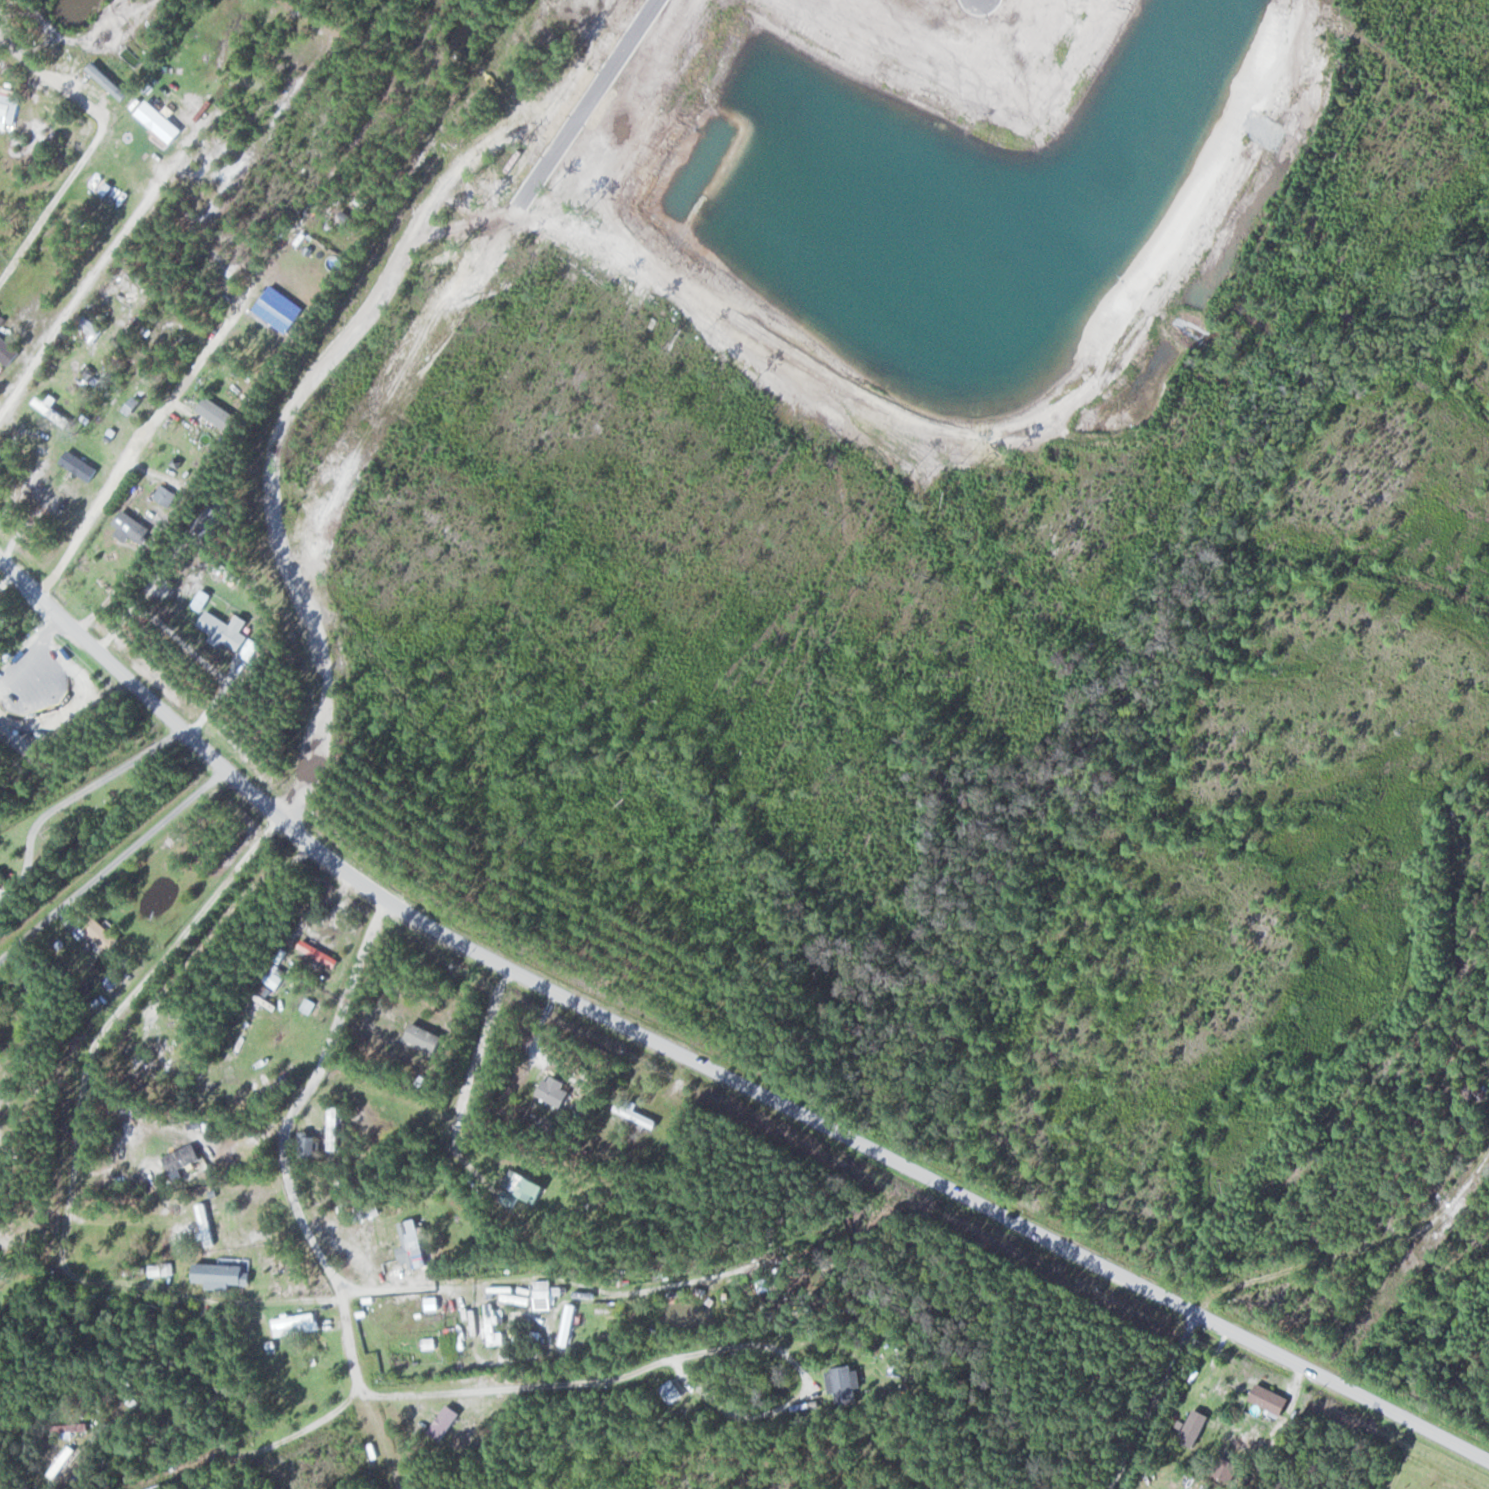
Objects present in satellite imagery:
building: (622, 135)
building: (281, 309)
building: (8, 350)
building: (49, 407)
building: (219, 413)
road: (131, 455)
building: (82, 465)
building: (136, 530)
building: (229, 633)
building: (2, 887)
building: (104, 936)
building: (315, 951)
building: (276, 977)
building: (166, 1054)
road: (702, 1065)
building: (556, 1092)
building: (638, 1116)
building: (336, 1128)
building: (311, 1145)
building: (185, 1159)
building: (523, 1189)
road: (295, 1192)
building: (208, 1225)
building: (414, 1245)
road: (1305, 1261)
building: (163, 1270)
building: (224, 1275)
building: (545, 1292)
building: (296, 1324)
building: (494, 1325)
building: (570, 1325)
building: (1273, 1399)
road: (1151, 1400)
building: (446, 1423)
building: (1197, 1429)
road: (180, 1433)

